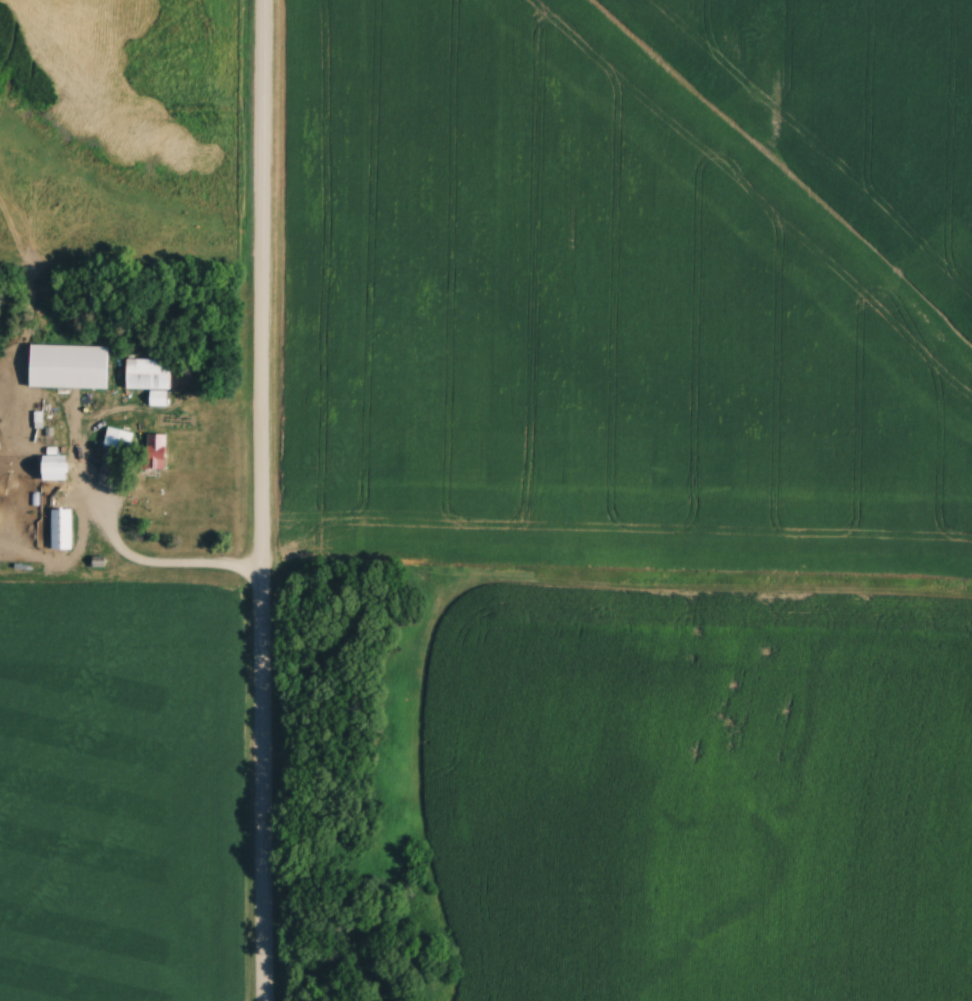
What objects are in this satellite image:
building: (71, 366)
building: (150, 373)
building: (119, 439)
building: (61, 465)
road: (262, 500)
building: (65, 528)
road: (150, 567)

